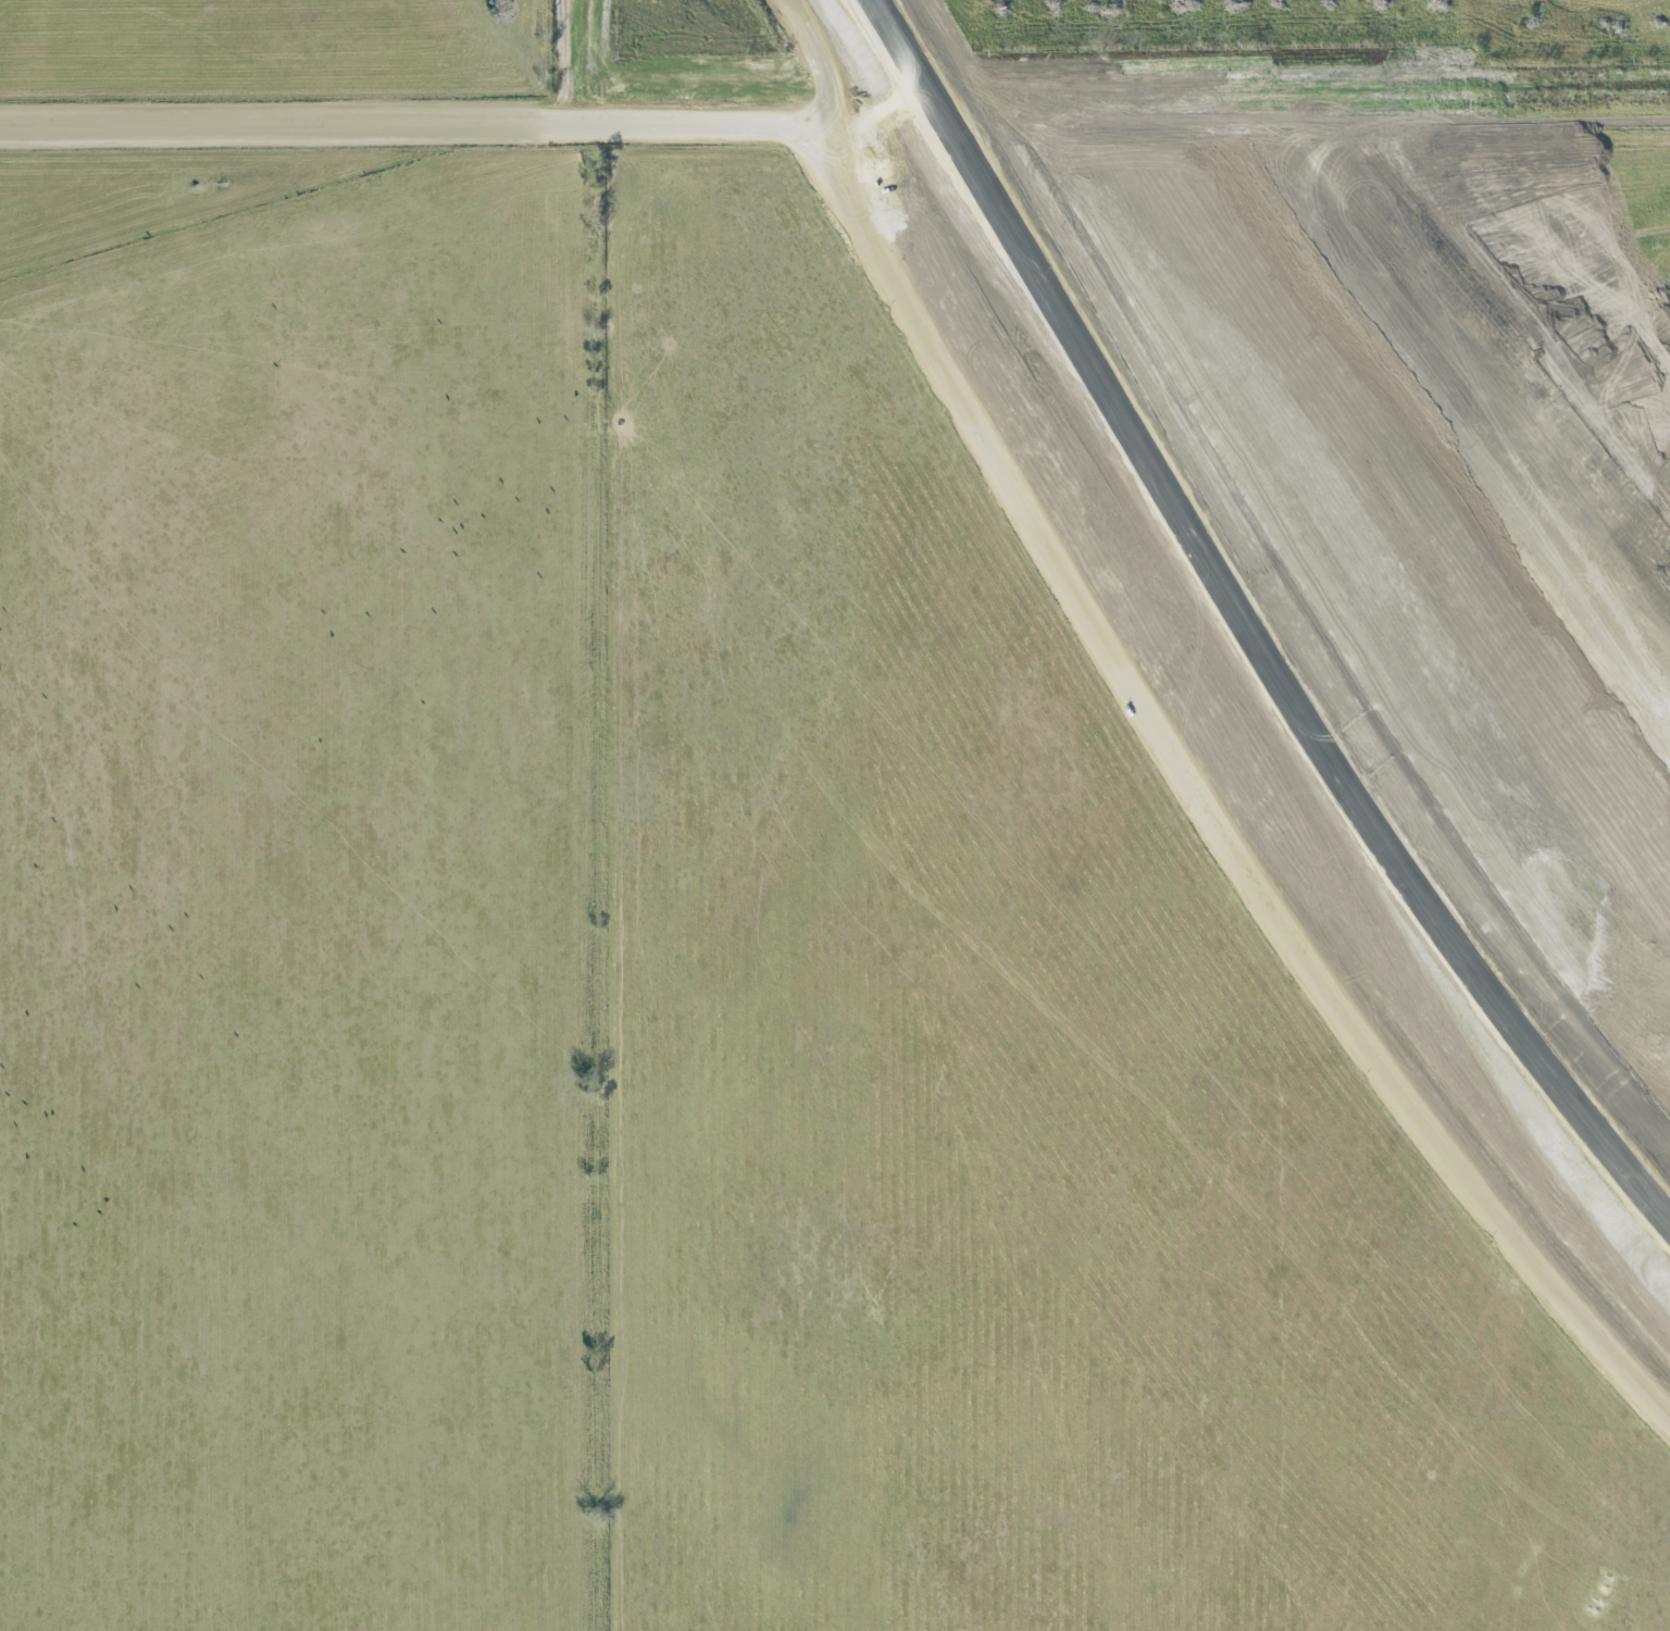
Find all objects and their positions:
road: (1233, 634)

